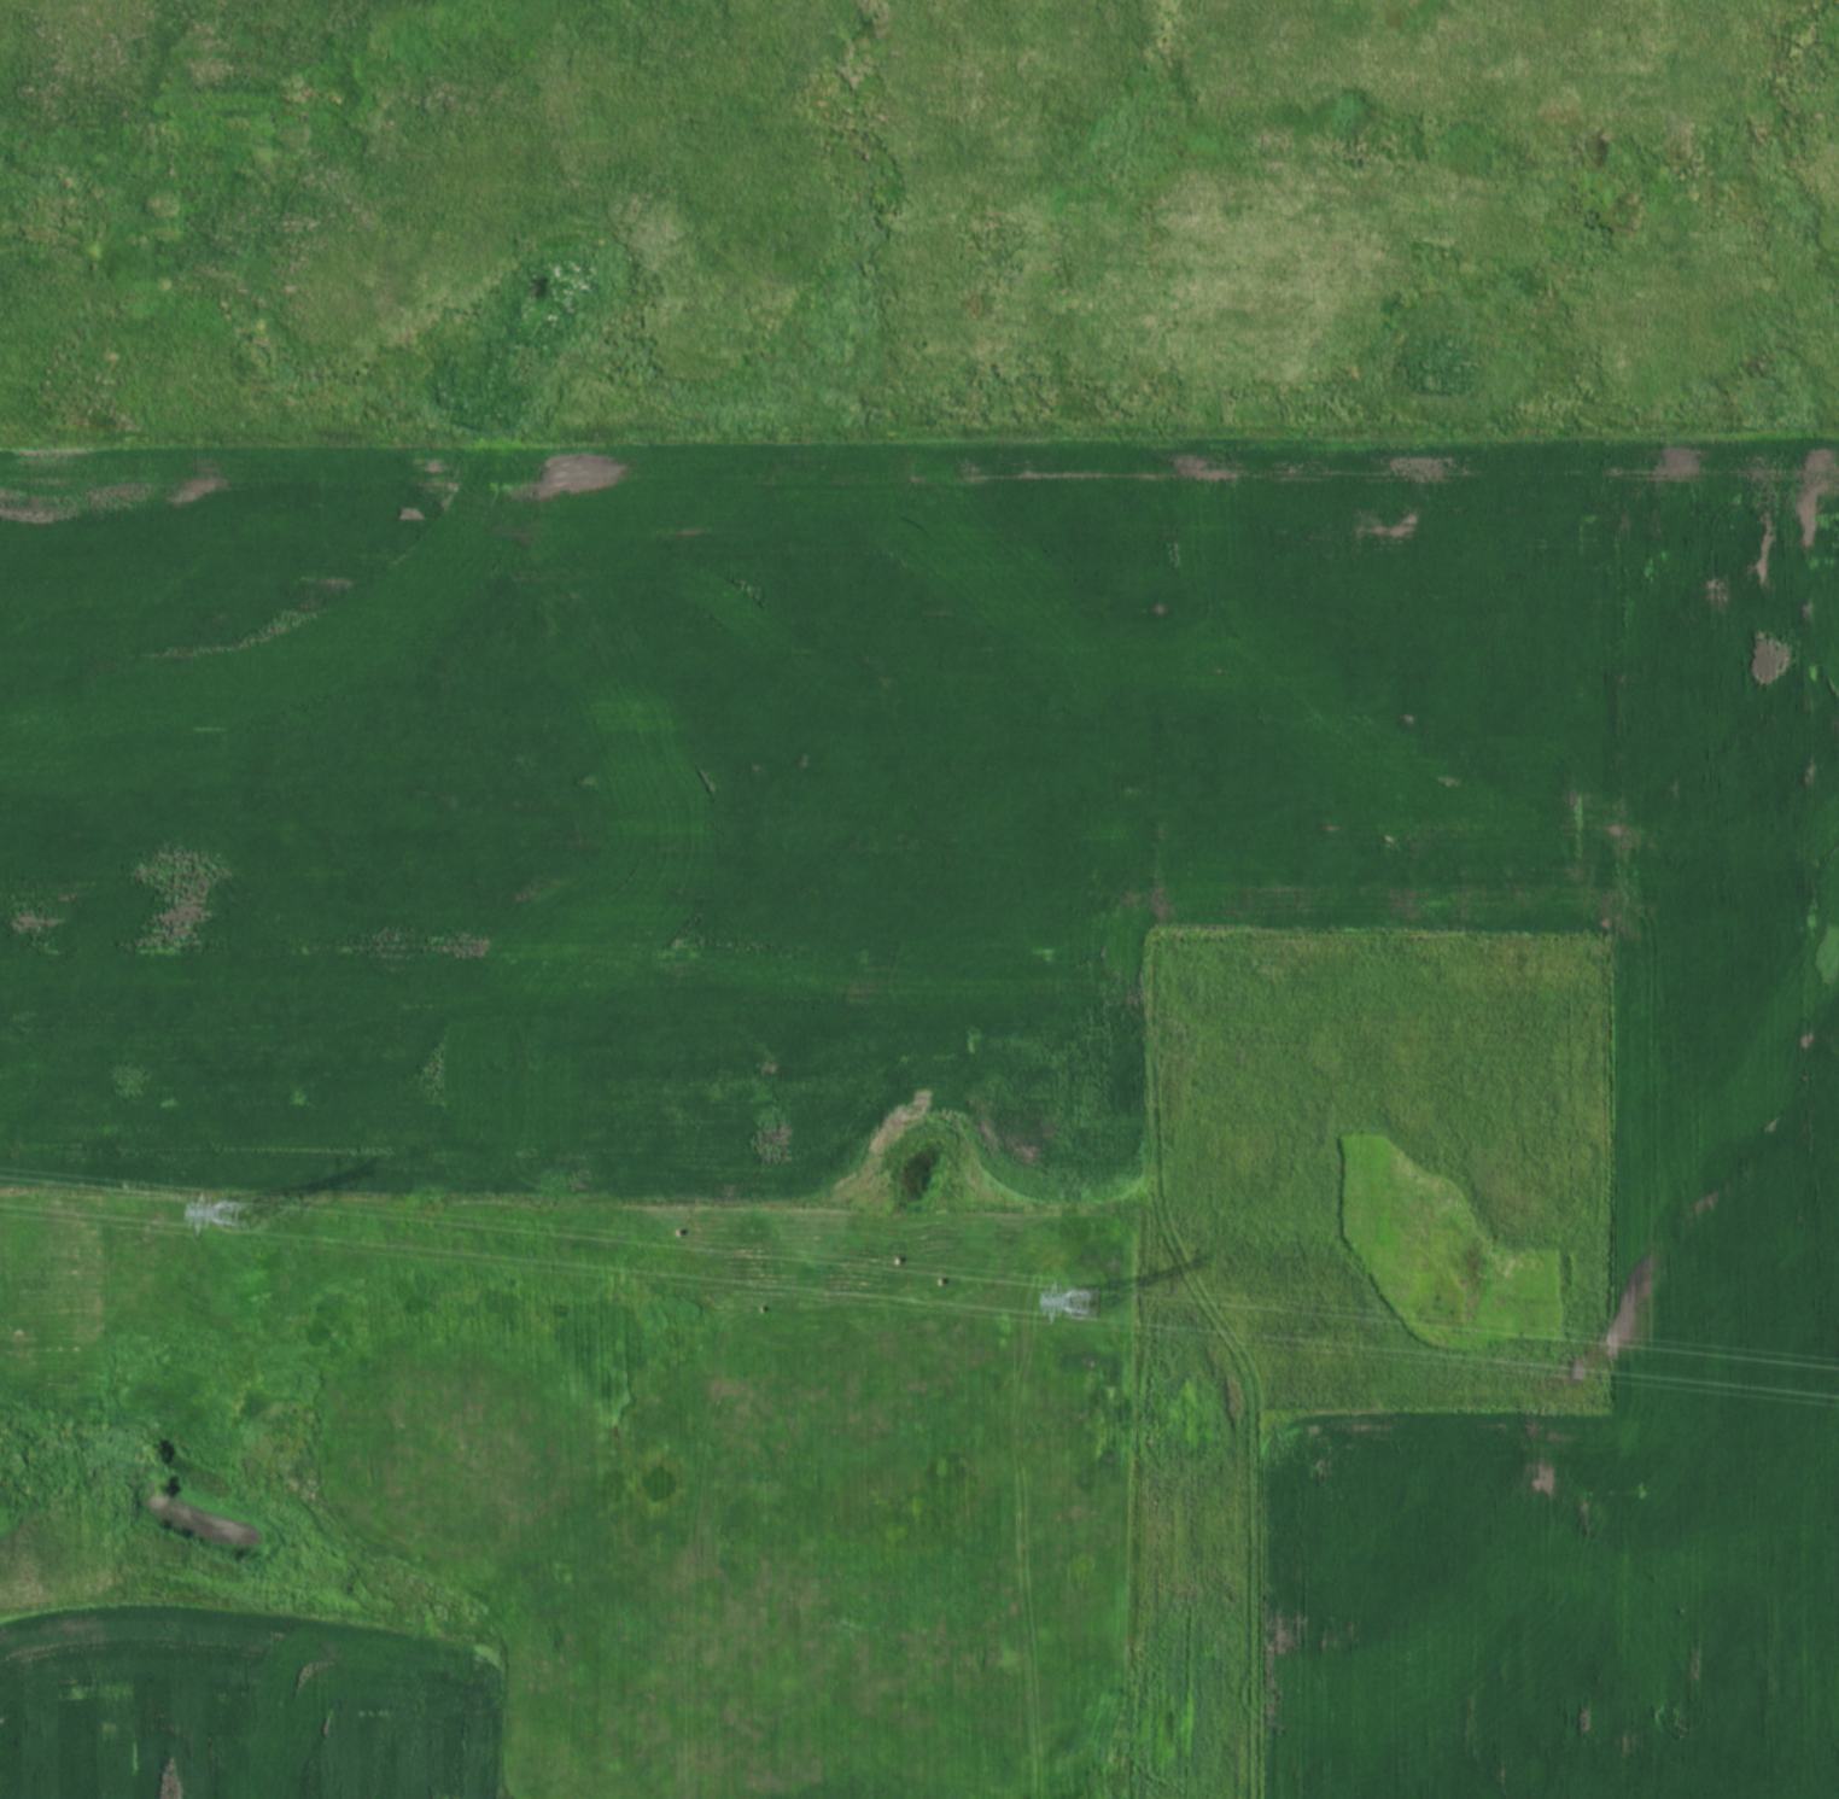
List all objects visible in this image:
power tower: (239, 1209)
power tower: (1085, 1296)

